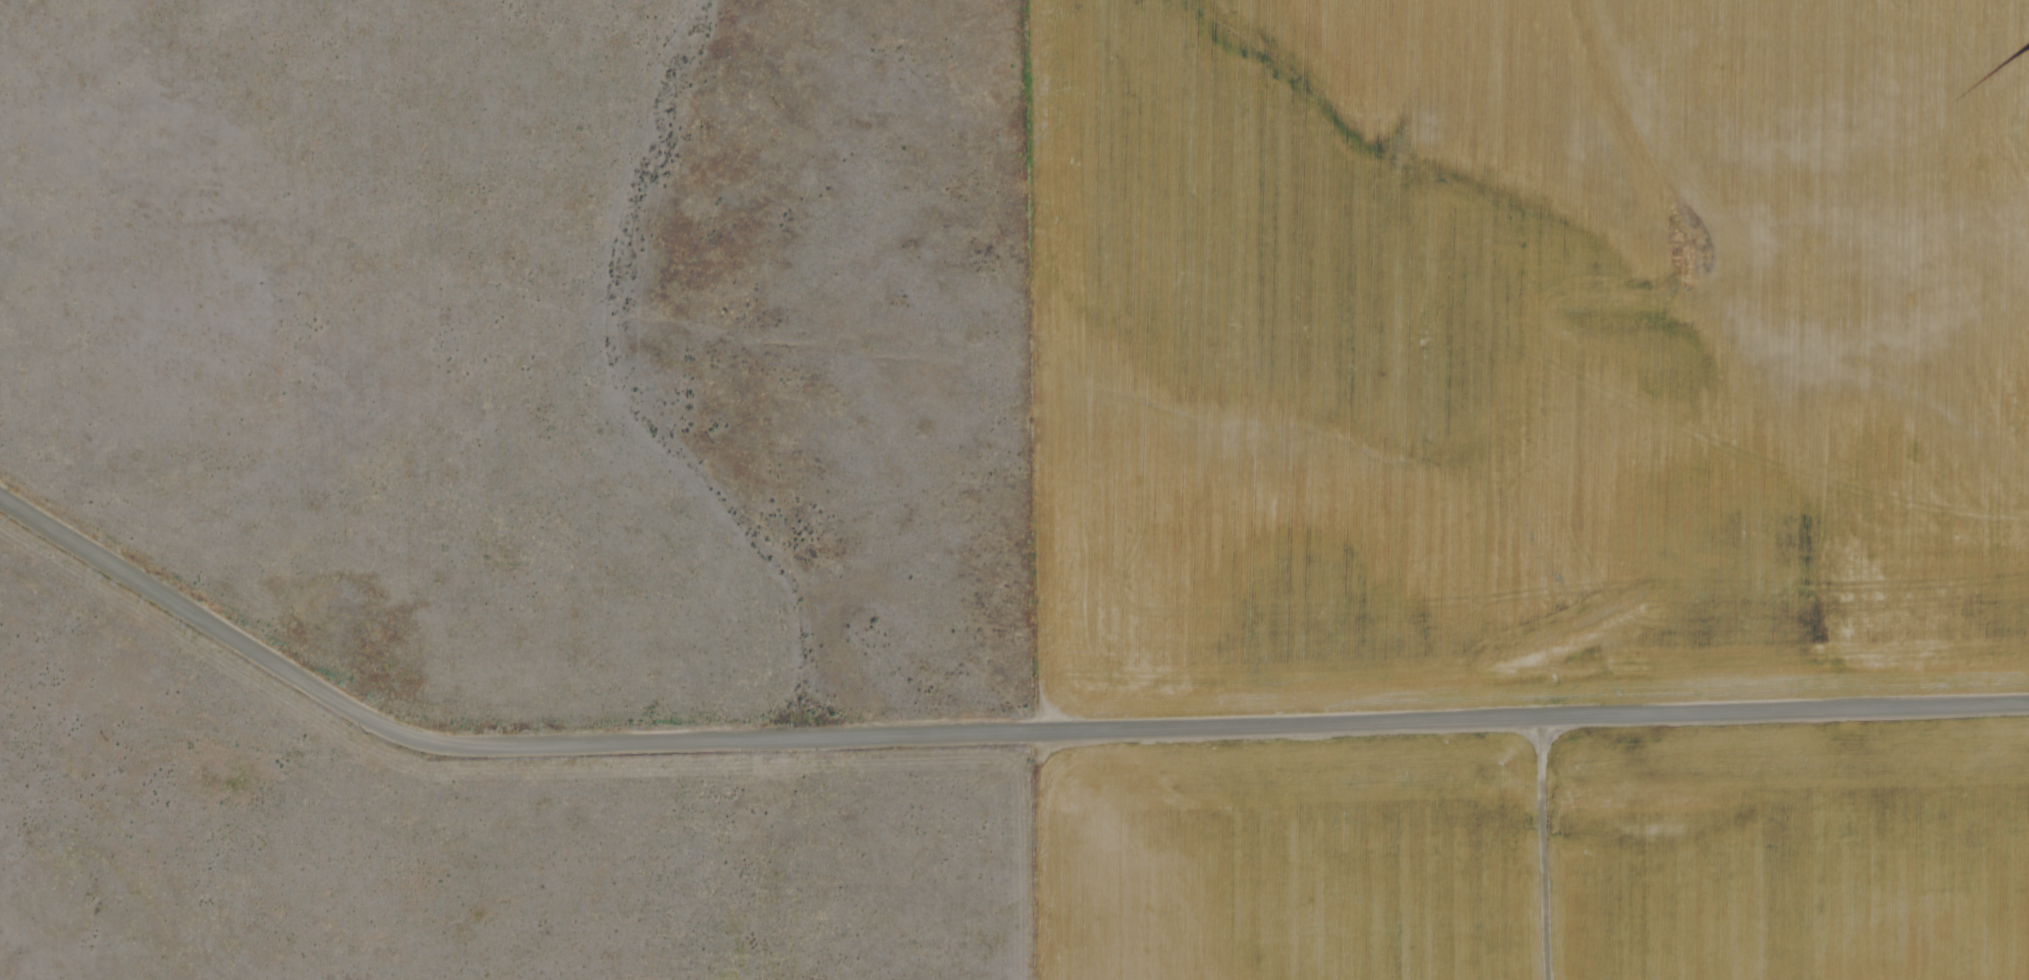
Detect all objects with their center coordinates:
road: (982, 724)
road: (1540, 844)

